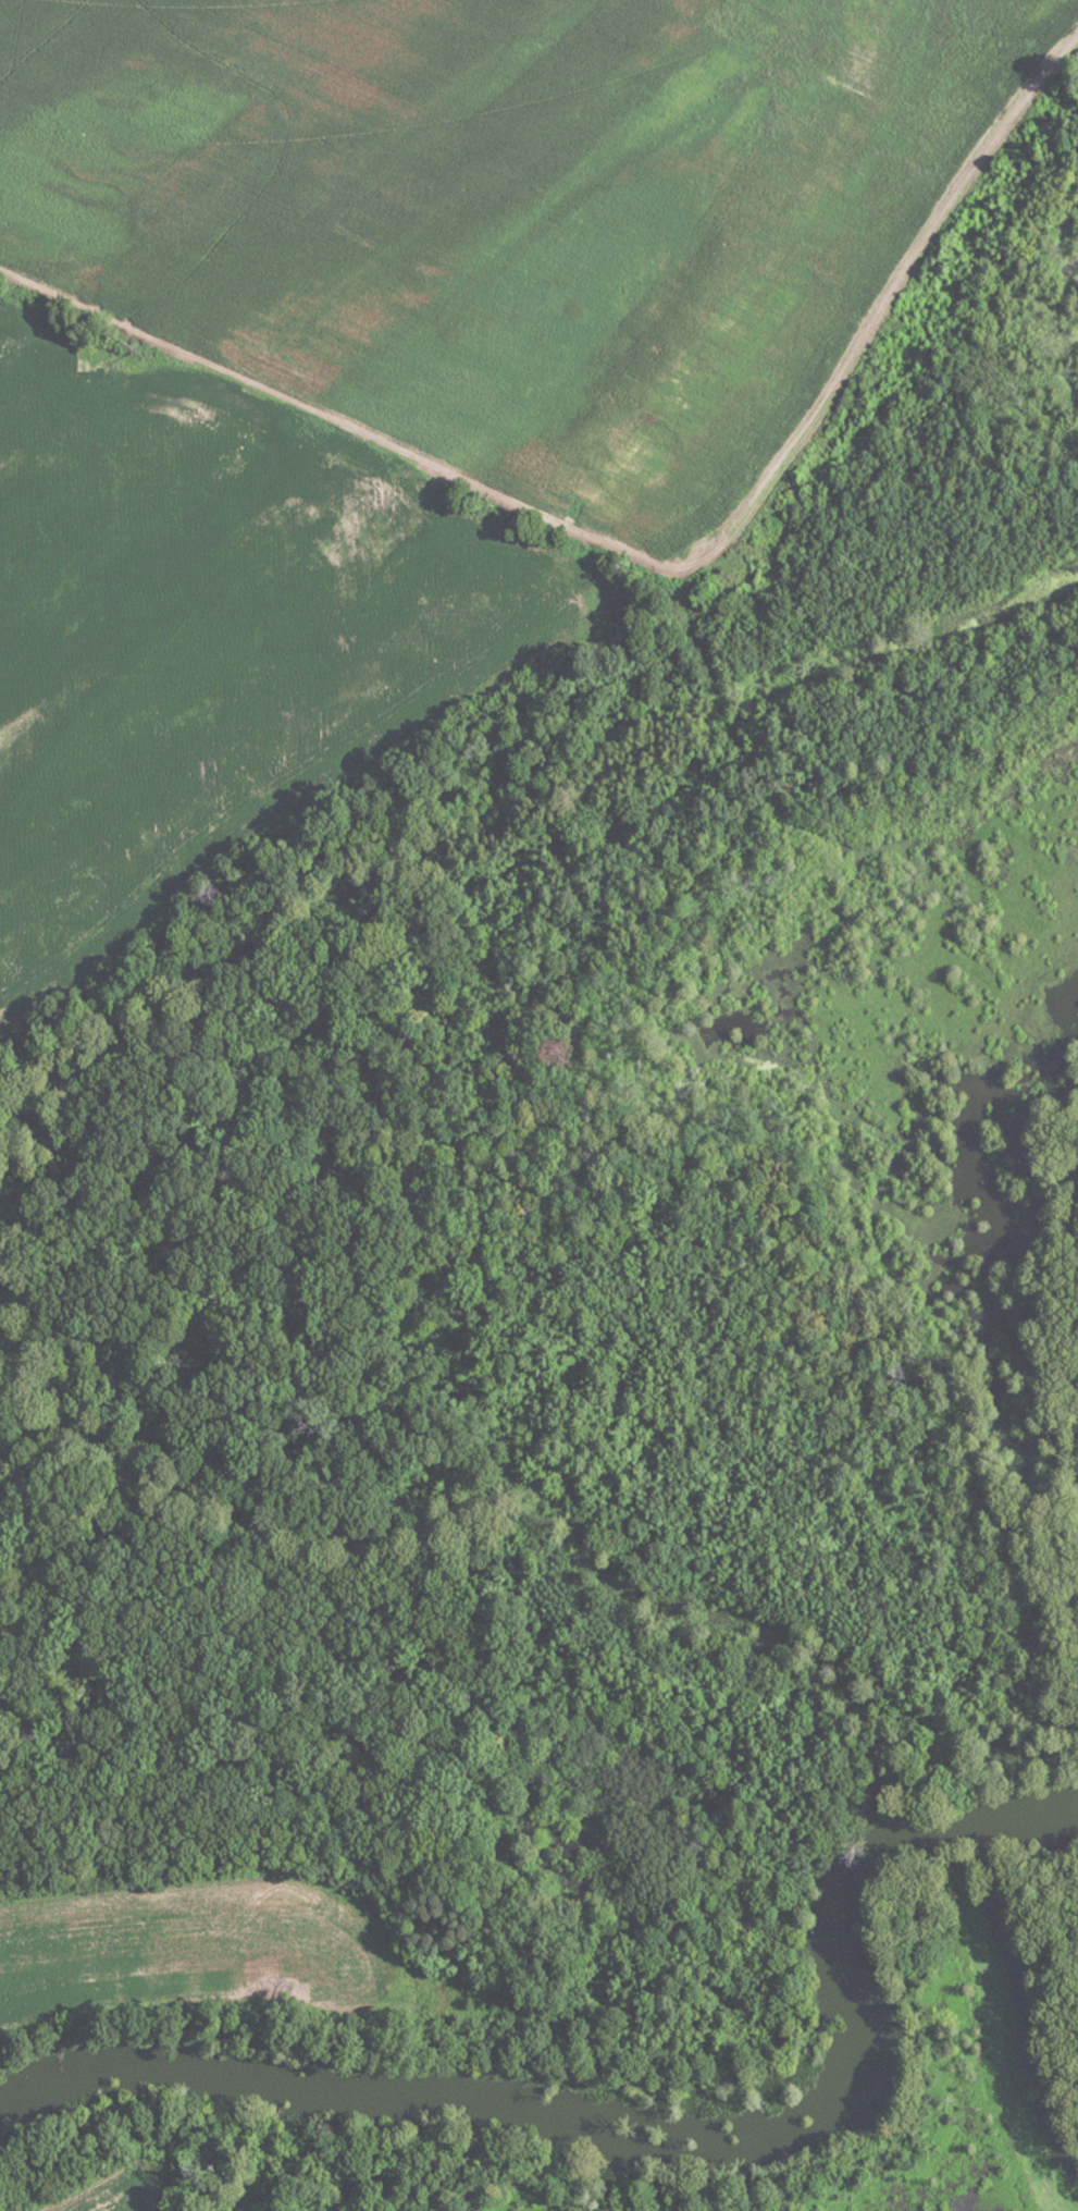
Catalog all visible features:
road: (1021, 2053)

